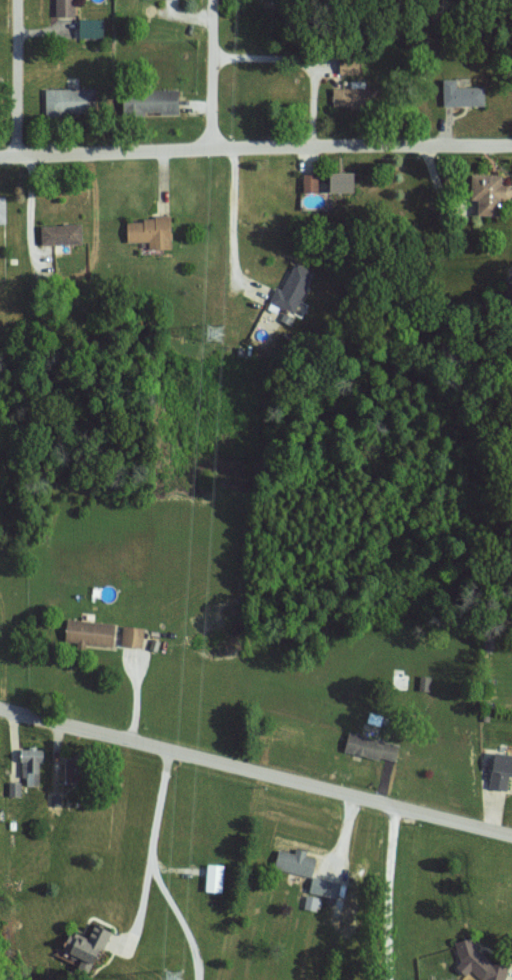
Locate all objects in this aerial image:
building: (66, 7)
building: (92, 27)
building: (350, 65)
road: (213, 74)
road: (15, 76)
building: (462, 93)
building: (347, 95)
building: (69, 100)
building: (151, 101)
road: (255, 146)
building: (344, 181)
building: (311, 182)
building: (490, 192)
road: (29, 207)
building: (2, 209)
road: (232, 215)
building: (151, 231)
building: (62, 233)
power tower: (219, 334)
building: (91, 632)
building: (132, 636)
building: (372, 747)
road: (466, 747)
road: (256, 762)
building: (32, 765)
building: (73, 770)
building: (501, 771)
road: (153, 865)
building: (300, 866)
building: (215, 878)
road: (386, 886)
road: (140, 905)
building: (89, 946)
building: (481, 963)
power tower: (177, 979)

